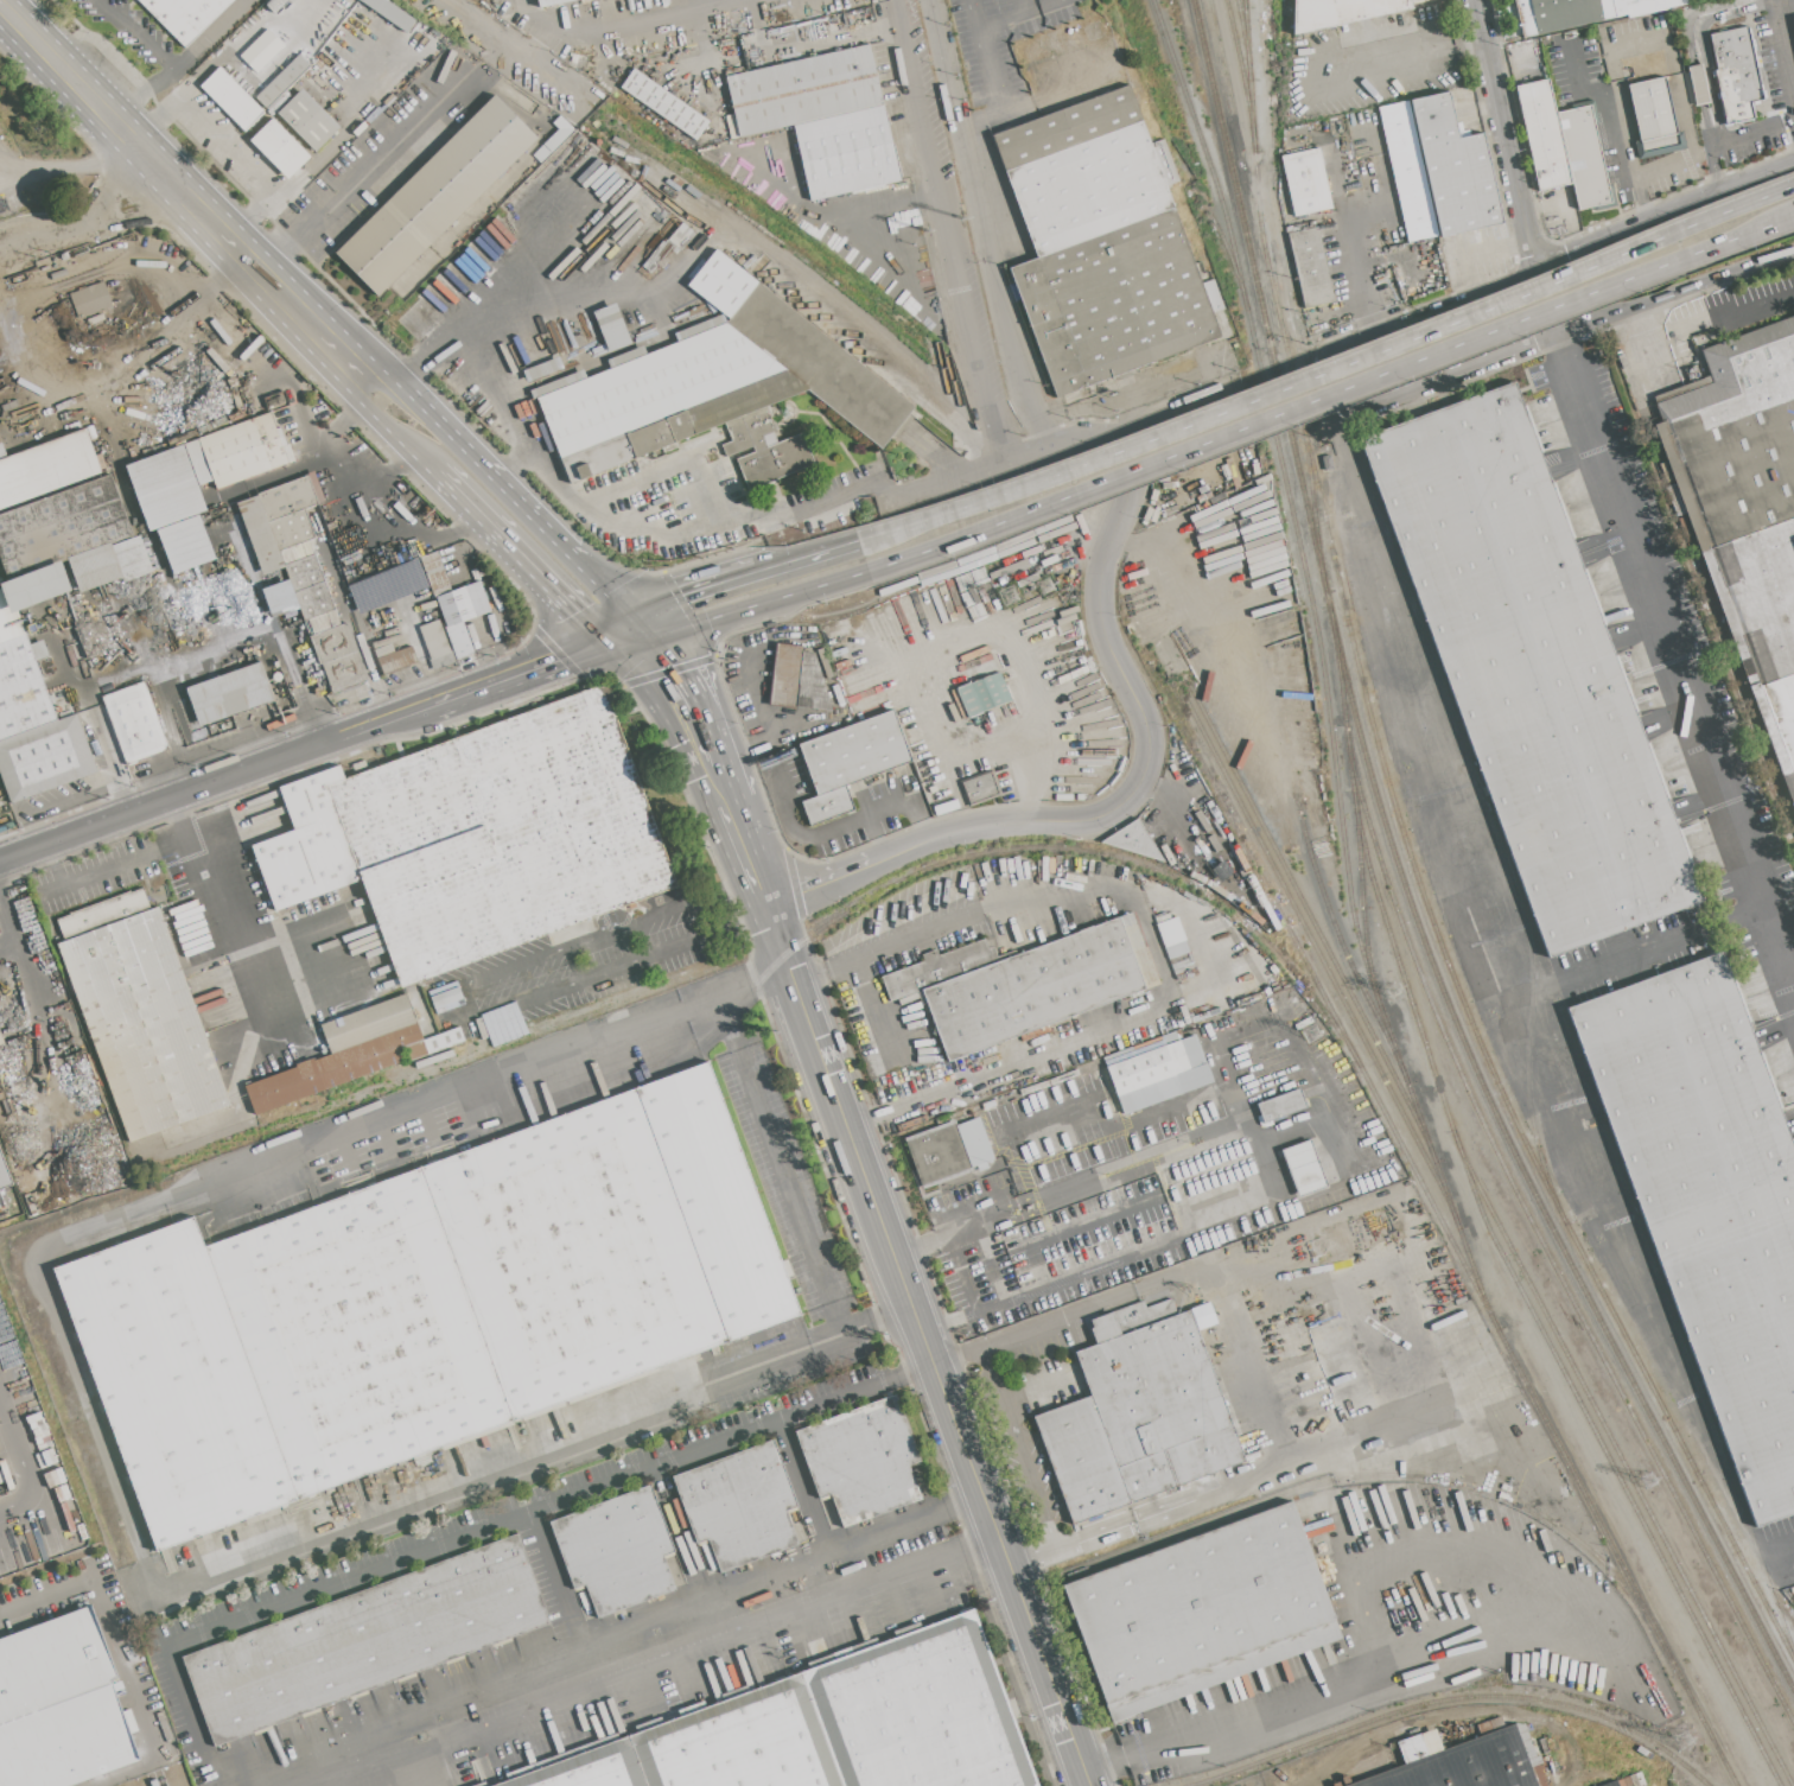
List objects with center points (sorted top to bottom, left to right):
building: (553, 4)
road: (1022, 7)
road: (1786, 8)
building: (1338, 12)
building: (1579, 12)
building: (390, 13)
road: (1686, 14)
building: (186, 15)
building: (1793, 18)
road: (1009, 19)
road: (1483, 19)
road: (618, 20)
railway: (1246, 24)
railway: (466, 28)
road: (138, 33)
road: (210, 34)
road: (244, 34)
road: (1469, 42)
road: (1785, 42)
road: (804, 43)
road: (1700, 45)
building: (260, 51)
railway: (1248, 64)
road: (992, 68)
road: (1310, 69)
road: (267, 74)
building: (1735, 75)
building: (282, 82)
road: (1696, 85)
building: (1698, 85)
road: (142, 90)
railway: (559, 91)
building: (231, 100)
building: (664, 104)
road: (980, 115)
road: (112, 116)
road: (1617, 116)
building: (1654, 117)
road: (154, 119)
building: (822, 119)
building: (308, 120)
road: (1704, 127)
road: (1751, 133)
road: (221, 142)
road: (330, 146)
building: (1563, 147)
building: (280, 150)
road: (1691, 150)
road: (1513, 151)
park: (38, 153)
road: (369, 169)
building: (1438, 169)
road: (1712, 169)
railway: (682, 173)
building: (1305, 183)
road: (1341, 195)
building: (437, 196)
road: (1551, 204)
road: (262, 214)
power tower: (963, 220)
road: (981, 225)
road: (93, 227)
power tower: (929, 230)
road: (942, 231)
building: (679, 235)
railway: (1222, 235)
building: (1103, 244)
road: (1503, 244)
road: (745, 246)
road: (249, 258)
building: (1311, 268)
road: (206, 287)
road: (1544, 287)
building: (91, 299)
parking lot: (1737, 303)
road: (1698, 322)
road: (1400, 323)
building: (610, 328)
road: (319, 329)
road: (428, 356)
road: (1329, 371)
road: (384, 376)
road: (1157, 384)
road: (408, 387)
building: (715, 395)
road: (1331, 395)
road: (376, 417)
road: (1118, 425)
road: (451, 427)
road: (1075, 438)
building: (237, 453)
road: (517, 463)
building: (45, 468)
road: (666, 475)
road: (960, 476)
railway: (1312, 495)
building: (1748, 501)
road: (532, 506)
building: (172, 507)
road: (393, 520)
road: (629, 523)
building: (62, 527)
road: (510, 548)
building: (1257, 554)
road: (808, 555)
building: (110, 565)
road: (597, 568)
building: (303, 572)
building: (435, 574)
power tower: (1048, 586)
road: (686, 592)
traffic signals: (680, 595)
power tower: (1009, 597)
road: (746, 608)
traffic signals: (575, 610)
road: (621, 611)
building: (462, 616)
railway: (1723, 628)
road: (976, 634)
building: (435, 646)
road: (1675, 652)
road: (216, 654)
building: (395, 659)
traffic signals: (554, 659)
railway: (1322, 659)
road: (524, 668)
building: (1531, 669)
traffic signals: (676, 673)
building: (796, 679)
road: (683, 687)
building: (229, 694)
building: (982, 695)
road: (399, 714)
building: (134, 723)
building: (34, 730)
road: (772, 735)
road: (1145, 742)
building: (855, 751)
road: (725, 783)
building: (981, 789)
road: (185, 792)
road: (828, 831)
building: (497, 834)
building: (1157, 837)
road: (874, 838)
building: (1133, 840)
railway: (1246, 848)
road: (747, 856)
building: (305, 863)
railway: (1414, 863)
road: (52, 864)
road: (116, 864)
railway: (1404, 879)
road: (736, 882)
road: (816, 885)
railway: (1322, 885)
road: (1513, 903)
railway: (1305, 904)
railway: (1363, 908)
road: (747, 913)
building: (103, 914)
building: (1169, 929)
road: (772, 930)
railway: (1312, 942)
road: (1655, 945)
road: (1156, 947)
road: (240, 948)
road: (573, 961)
building: (1024, 984)
power tower: (1392, 994)
road: (459, 1004)
road: (726, 1023)
building: (144, 1024)
power tower: (1311, 1035)
building: (1, 1040)
building: (433, 1043)
building: (345, 1055)
road: (1281, 1062)
building: (1147, 1068)
railway: (1357, 1068)
building: (1281, 1106)
building: (0, 1110)
road: (851, 1150)
building: (948, 1150)
building: (1303, 1168)
building: (5, 1172)
railway: (1514, 1189)
road: (788, 1193)
building: (1709, 1199)
building: (11, 1202)
road: (1362, 1270)
railway: (1528, 1282)
building: (424, 1304)
road: (891, 1316)
road: (58, 1321)
road: (1033, 1330)
road: (840, 1335)
road: (762, 1364)
road: (905, 1373)
road: (1420, 1409)
road: (1255, 1410)
building: (1139, 1419)
building: (863, 1460)
road: (23, 1461)
railway: (1615, 1473)
railway: (1343, 1480)
power tower: (1649, 1483)
road: (800, 1485)
road: (958, 1500)
building: (740, 1505)
road: (676, 1530)
road: (980, 1544)
road: (1074, 1550)
building: (617, 1551)
road: (1006, 1564)
road: (693, 1598)
road: (280, 1607)
building: (1201, 1612)
railway: (1780, 1614)
building: (365, 1639)
road: (119, 1658)
road: (1385, 1660)
road: (659, 1667)
railway: (1455, 1699)
building: (59, 1705)
building: (833, 1727)
power tower: (1682, 1744)
building: (1465, 1760)
road: (216, 1780)
building: (1611, 1784)

